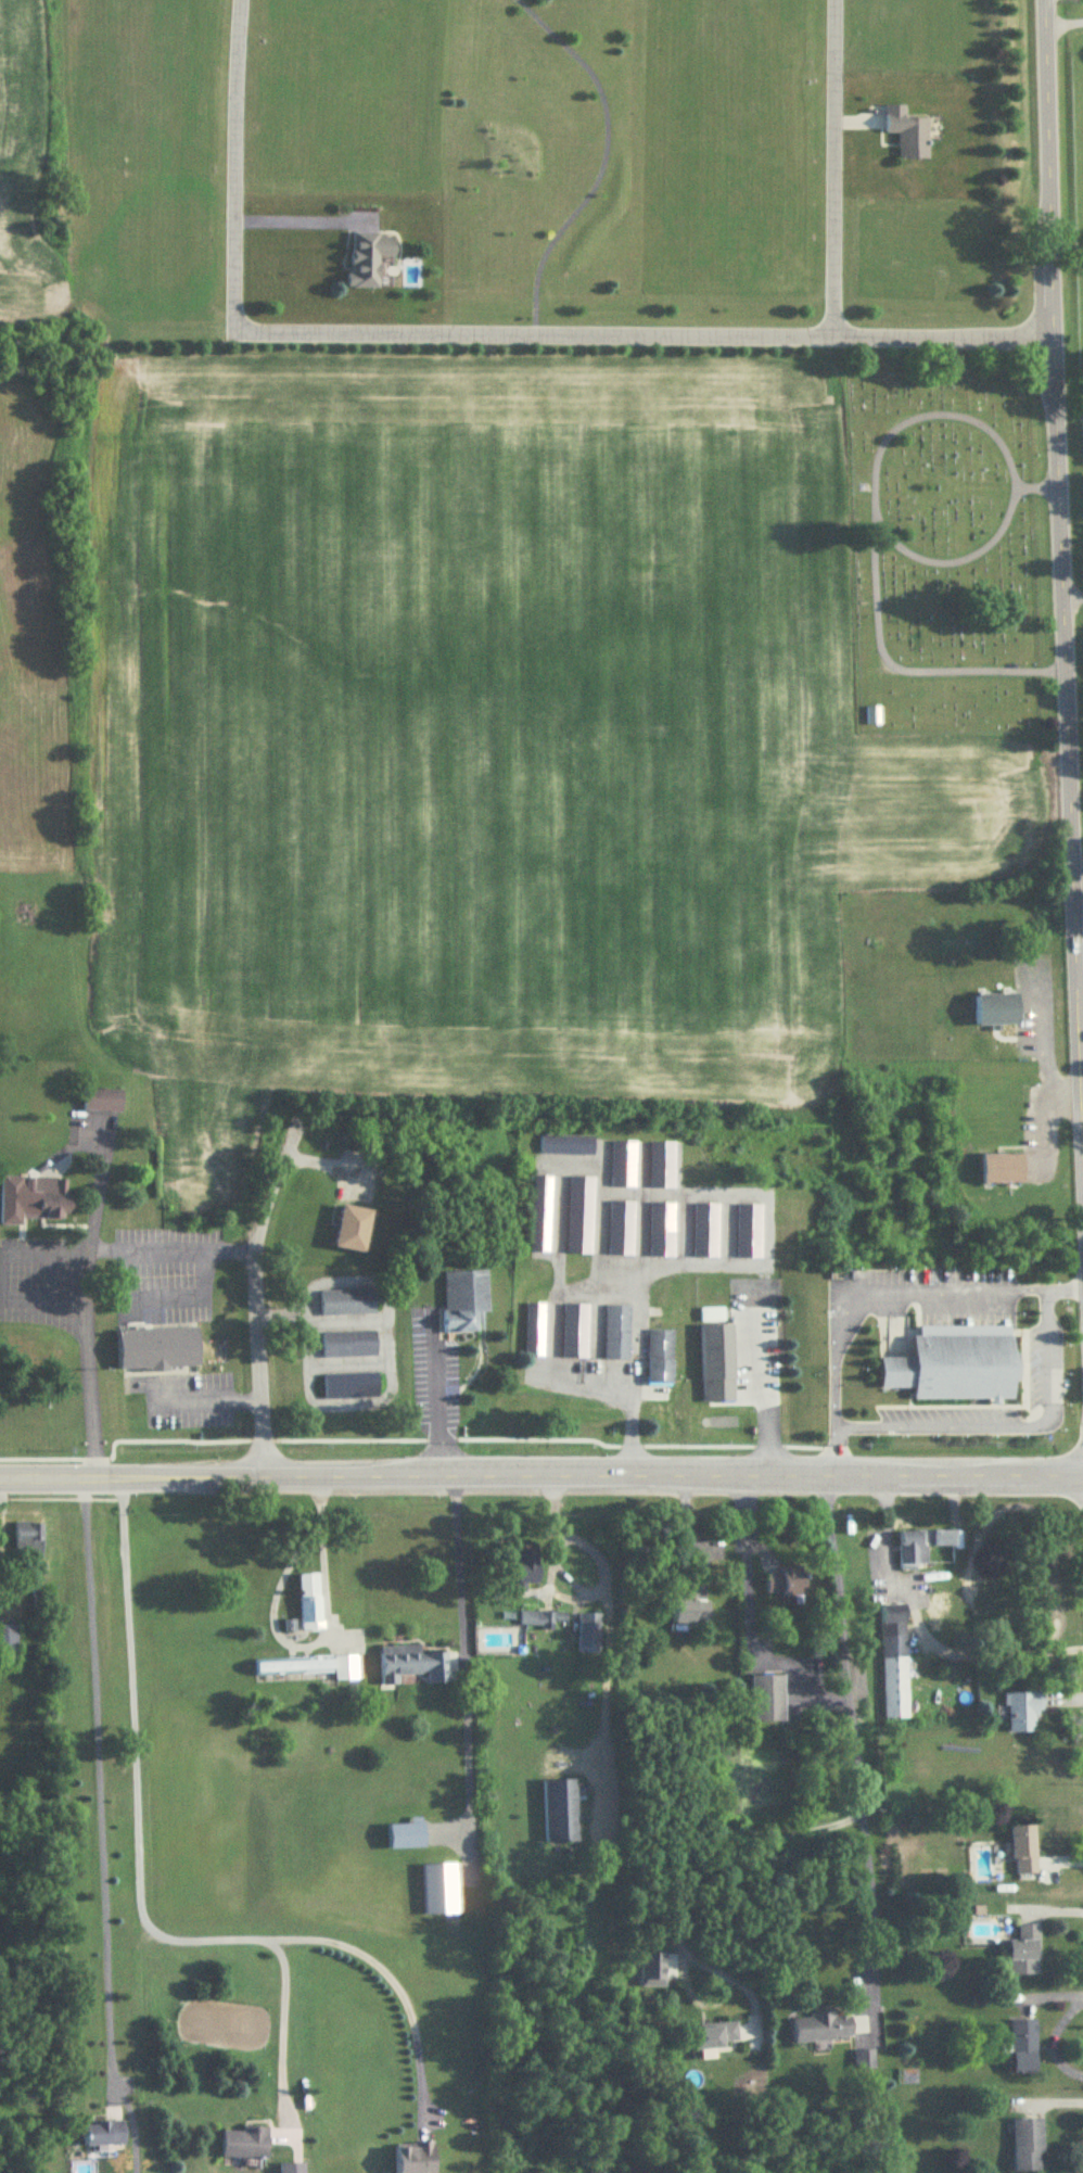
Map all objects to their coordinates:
road: (1061, 22)
building: (908, 135)
road: (234, 166)
road: (833, 169)
park: (1078, 182)
road: (292, 220)
building: (369, 259)
road: (641, 338)
park: (944, 547)
road: (1070, 593)
road: (1057, 621)
building: (872, 716)
building: (998, 1011)
building: (55, 1070)
building: (102, 1101)
building: (563, 1147)
road: (1081, 1152)
building: (623, 1164)
building: (662, 1165)
building: (1002, 1169)
building: (34, 1199)
building: (540, 1215)
building: (581, 1216)
building: (622, 1229)
building: (353, 1230)
building: (661, 1230)
building: (705, 1230)
building: (749, 1231)
road: (33, 1251)
road: (170, 1253)
road: (867, 1289)
road: (256, 1292)
road: (158, 1297)
road: (42, 1298)
road: (86, 1301)
building: (464, 1301)
building: (347, 1304)
road: (347, 1319)
building: (535, 1331)
building: (575, 1332)
building: (617, 1333)
building: (349, 1346)
building: (160, 1349)
road: (348, 1359)
building: (661, 1359)
building: (718, 1364)
building: (956, 1365)
building: (351, 1387)
road: (432, 1392)
road: (387, 1394)
road: (761, 1395)
road: (211, 1399)
road: (1005, 1425)
road: (201, 1473)
road: (742, 1474)
road: (687, 1533)
building: (28, 1538)
building: (926, 1545)
road: (746, 1562)
road: (457, 1564)
building: (527, 1567)
road: (571, 1579)
building: (785, 1581)
building: (309, 1602)
building: (689, 1611)
building: (588, 1634)
road: (921, 1634)
road: (315, 1640)
building: (9, 1645)
building: (893, 1662)
building: (413, 1663)
building: (307, 1667)
building: (767, 1699)
building: (1023, 1713)
road: (852, 1736)
building: (560, 1812)
road: (99, 1825)
building: (1024, 1851)
road: (717, 1860)
building: (439, 1890)
road: (136, 1899)
building: (1023, 1953)
building: (821, 2029)
road: (279, 2030)
building: (714, 2036)
road: (1053, 2044)
building: (1024, 2047)
building: (863, 2058)
building: (103, 2134)
building: (245, 2144)
building: (1028, 2147)
building: (415, 2158)
building: (292, 2168)

